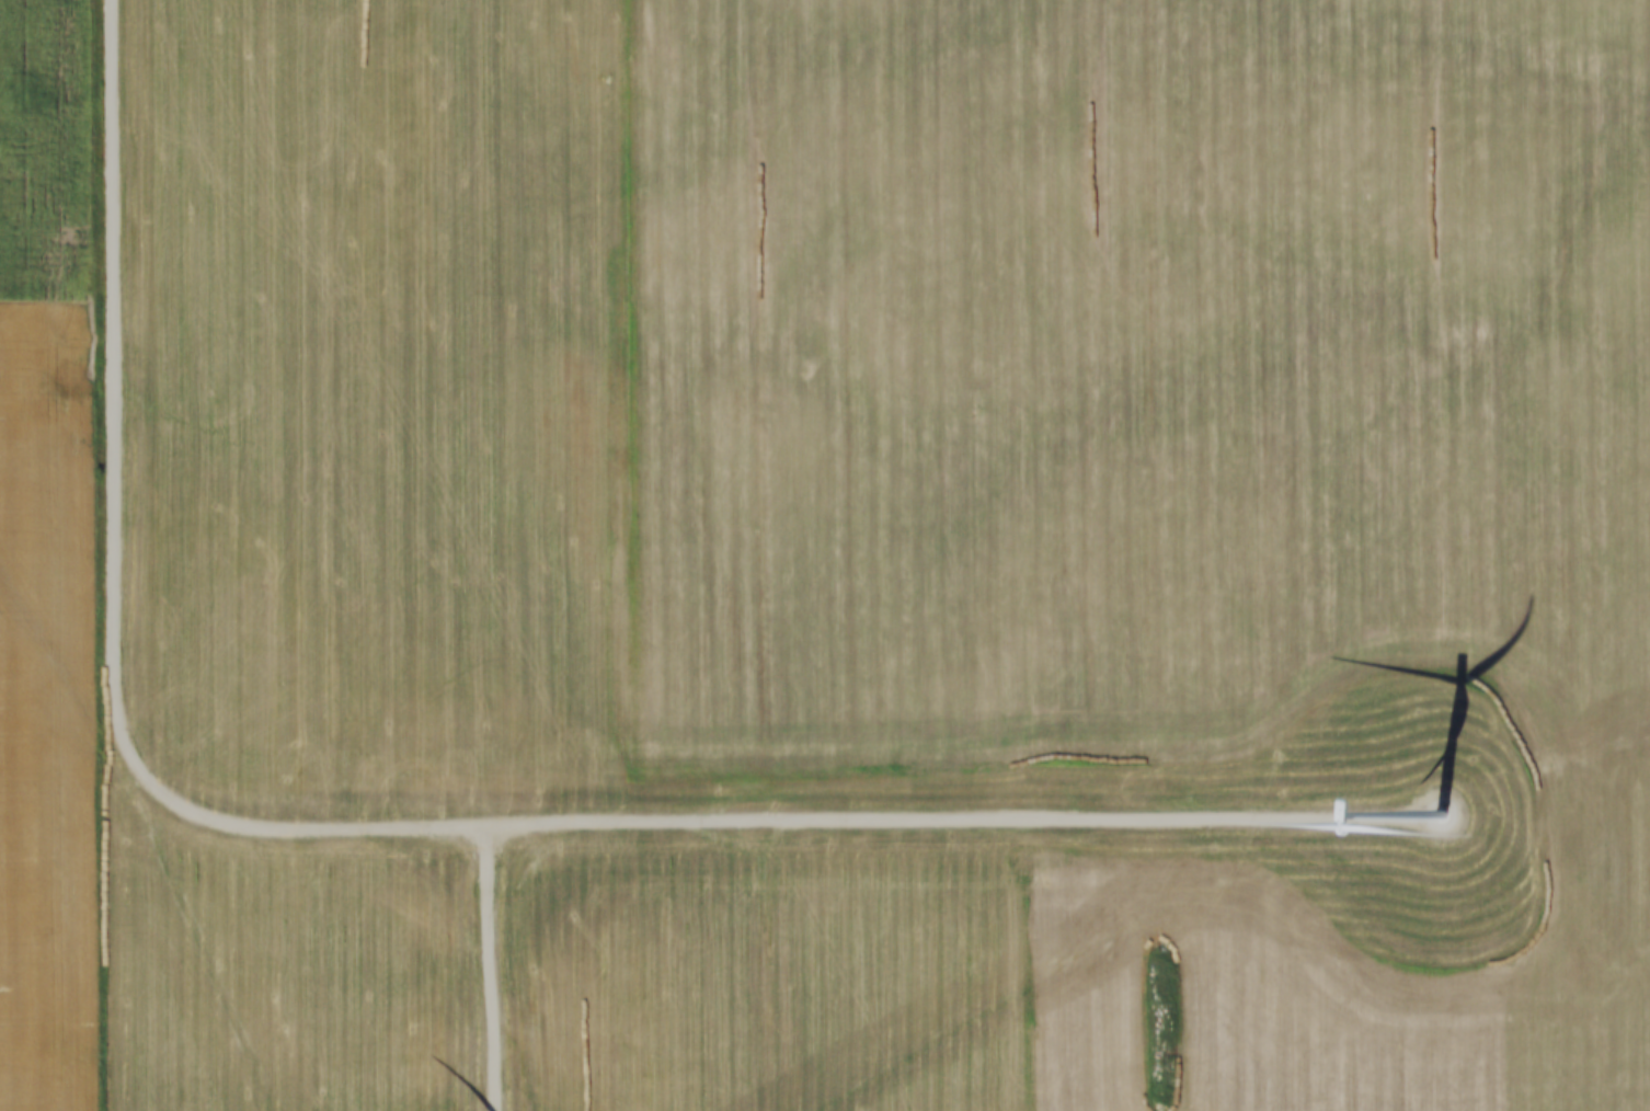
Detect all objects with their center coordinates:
wind turbine: (1435, 801)

